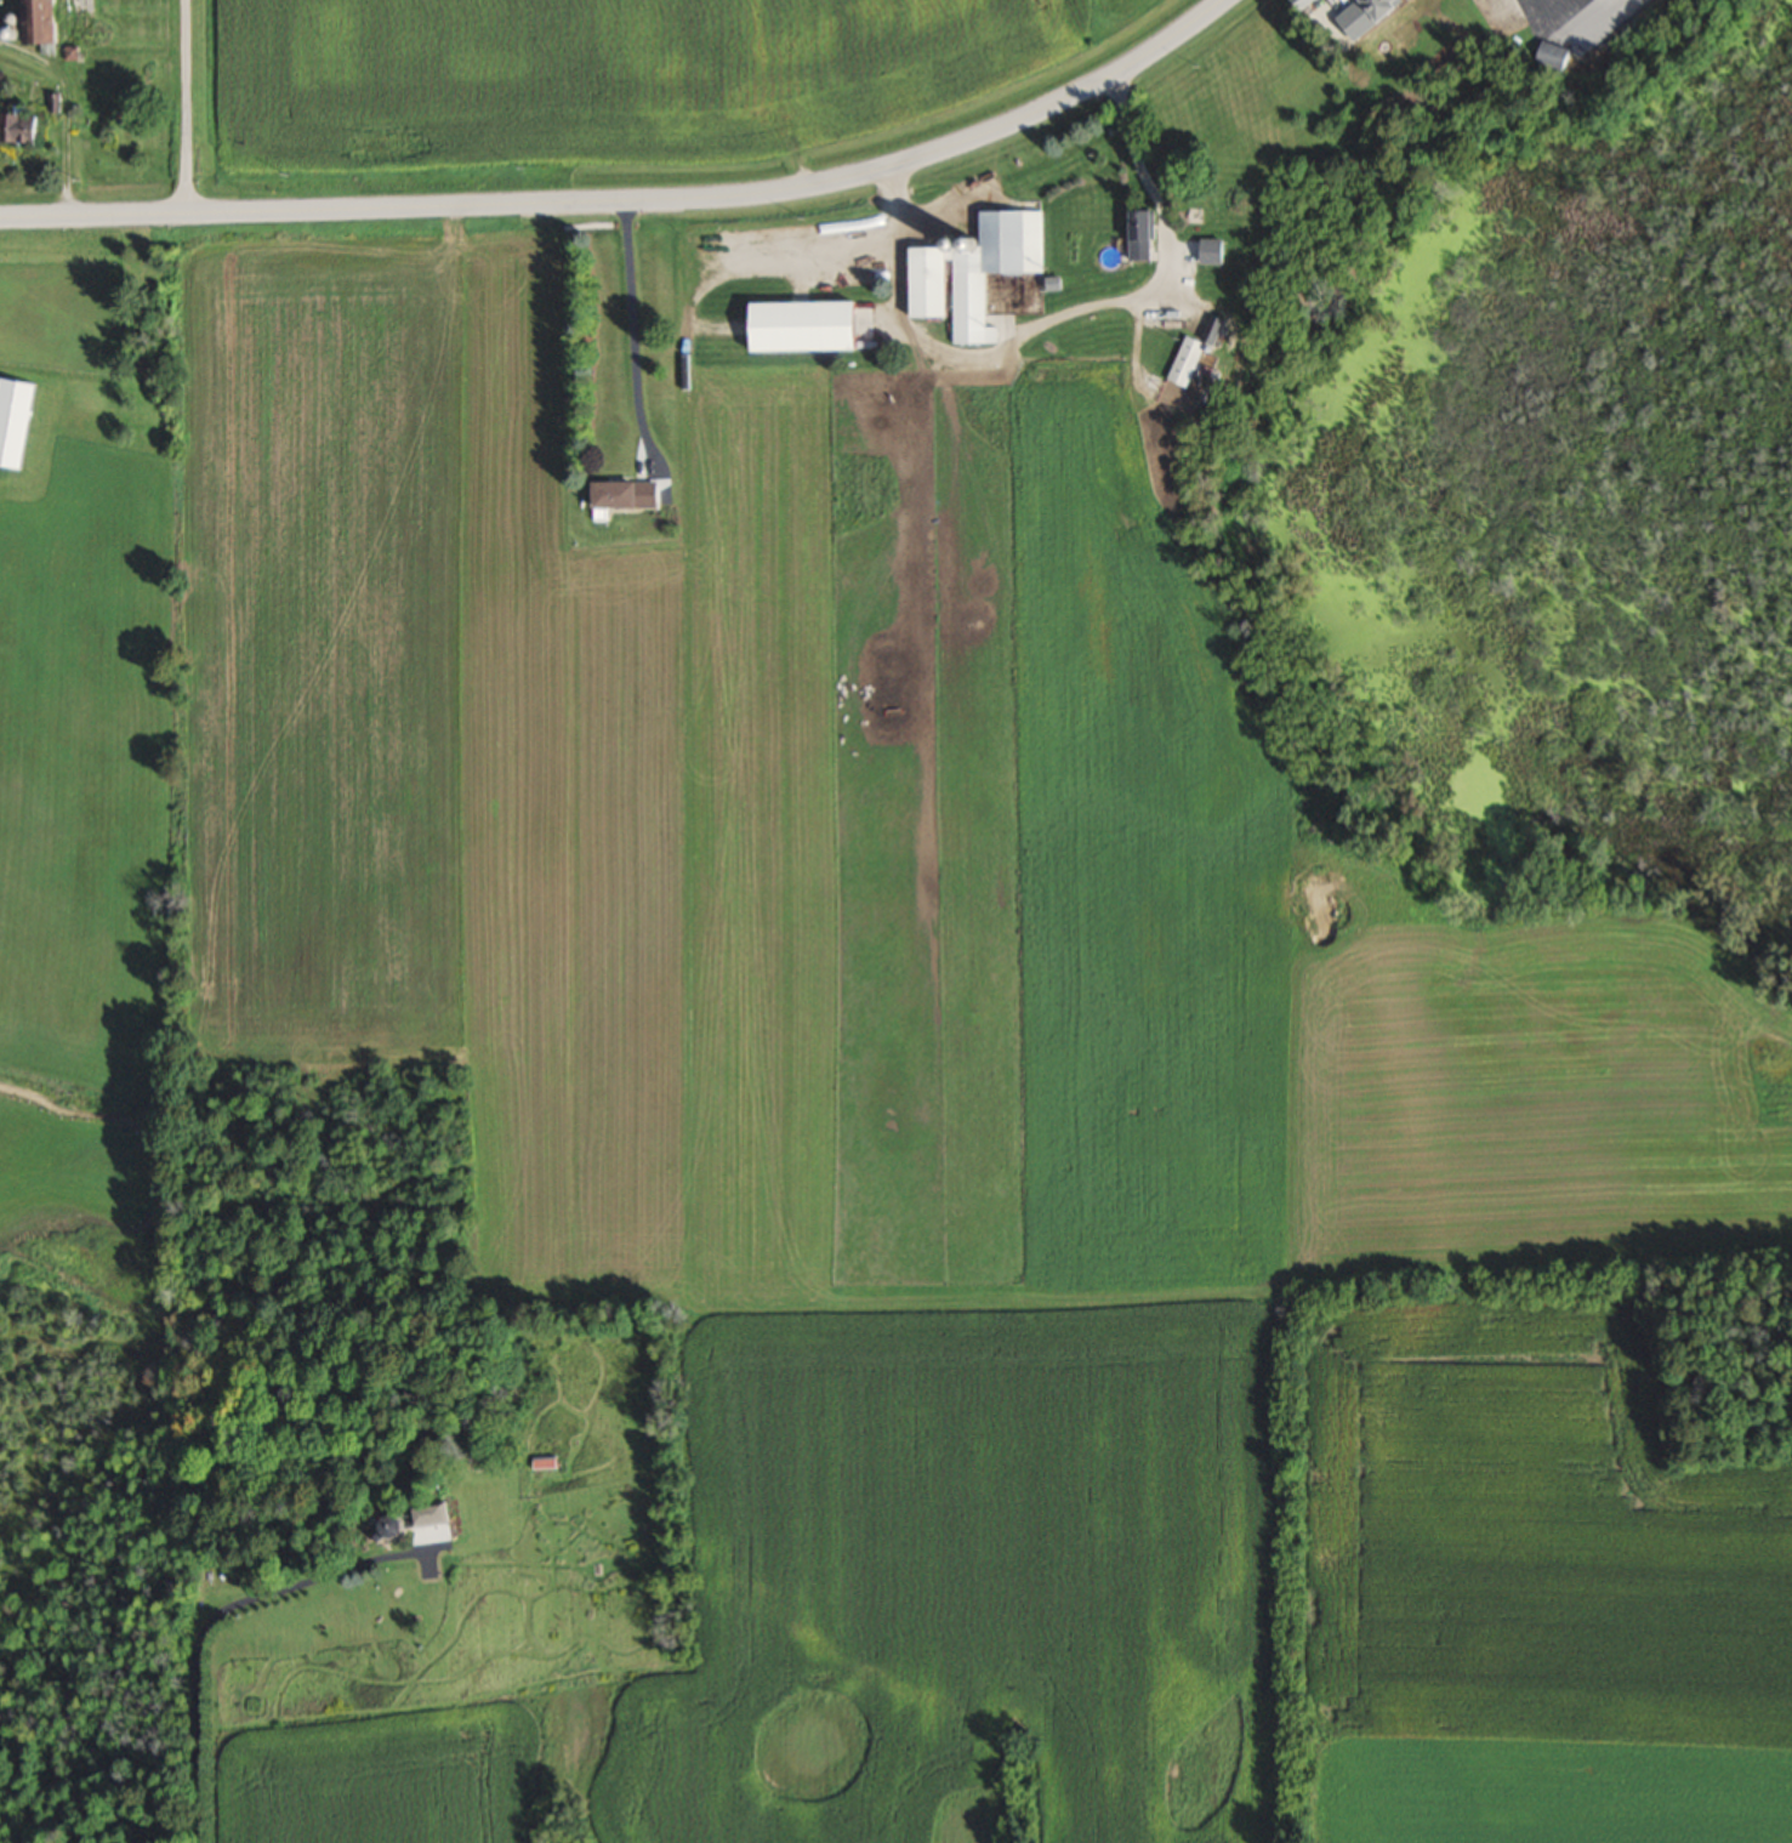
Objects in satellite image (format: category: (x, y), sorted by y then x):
building: (1296, 4)
building: (1370, 6)
building: (45, 21)
building: (1546, 56)
building: (19, 129)
road: (633, 200)
building: (1140, 235)
building: (1212, 251)
building: (967, 274)
building: (1164, 315)
building: (807, 326)
road: (632, 343)
building: (1188, 352)
building: (15, 420)
building: (616, 495)
building: (545, 1460)
building: (419, 1518)

